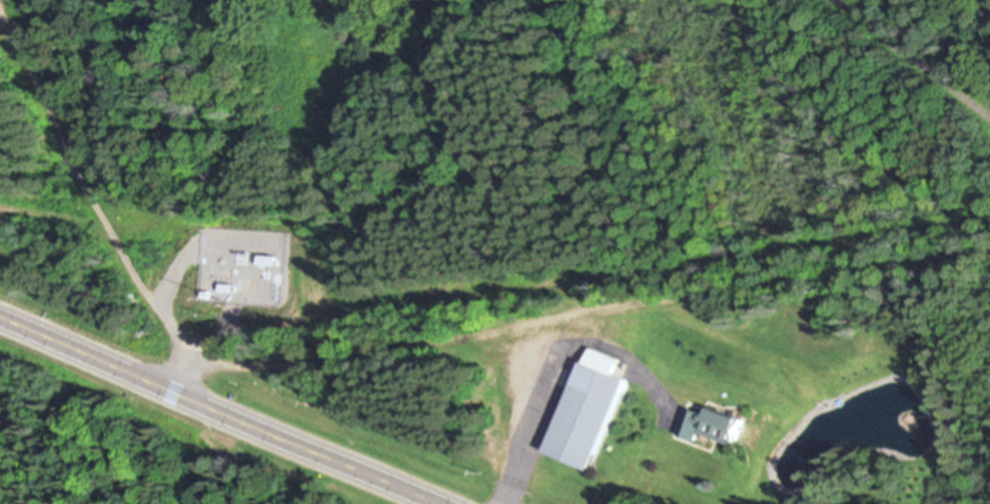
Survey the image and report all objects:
railway: (913, 58)
road: (97, 212)
road: (842, 270)
building: (242, 285)
road: (444, 337)
road: (219, 409)
building: (582, 415)
building: (705, 424)
road: (528, 430)

